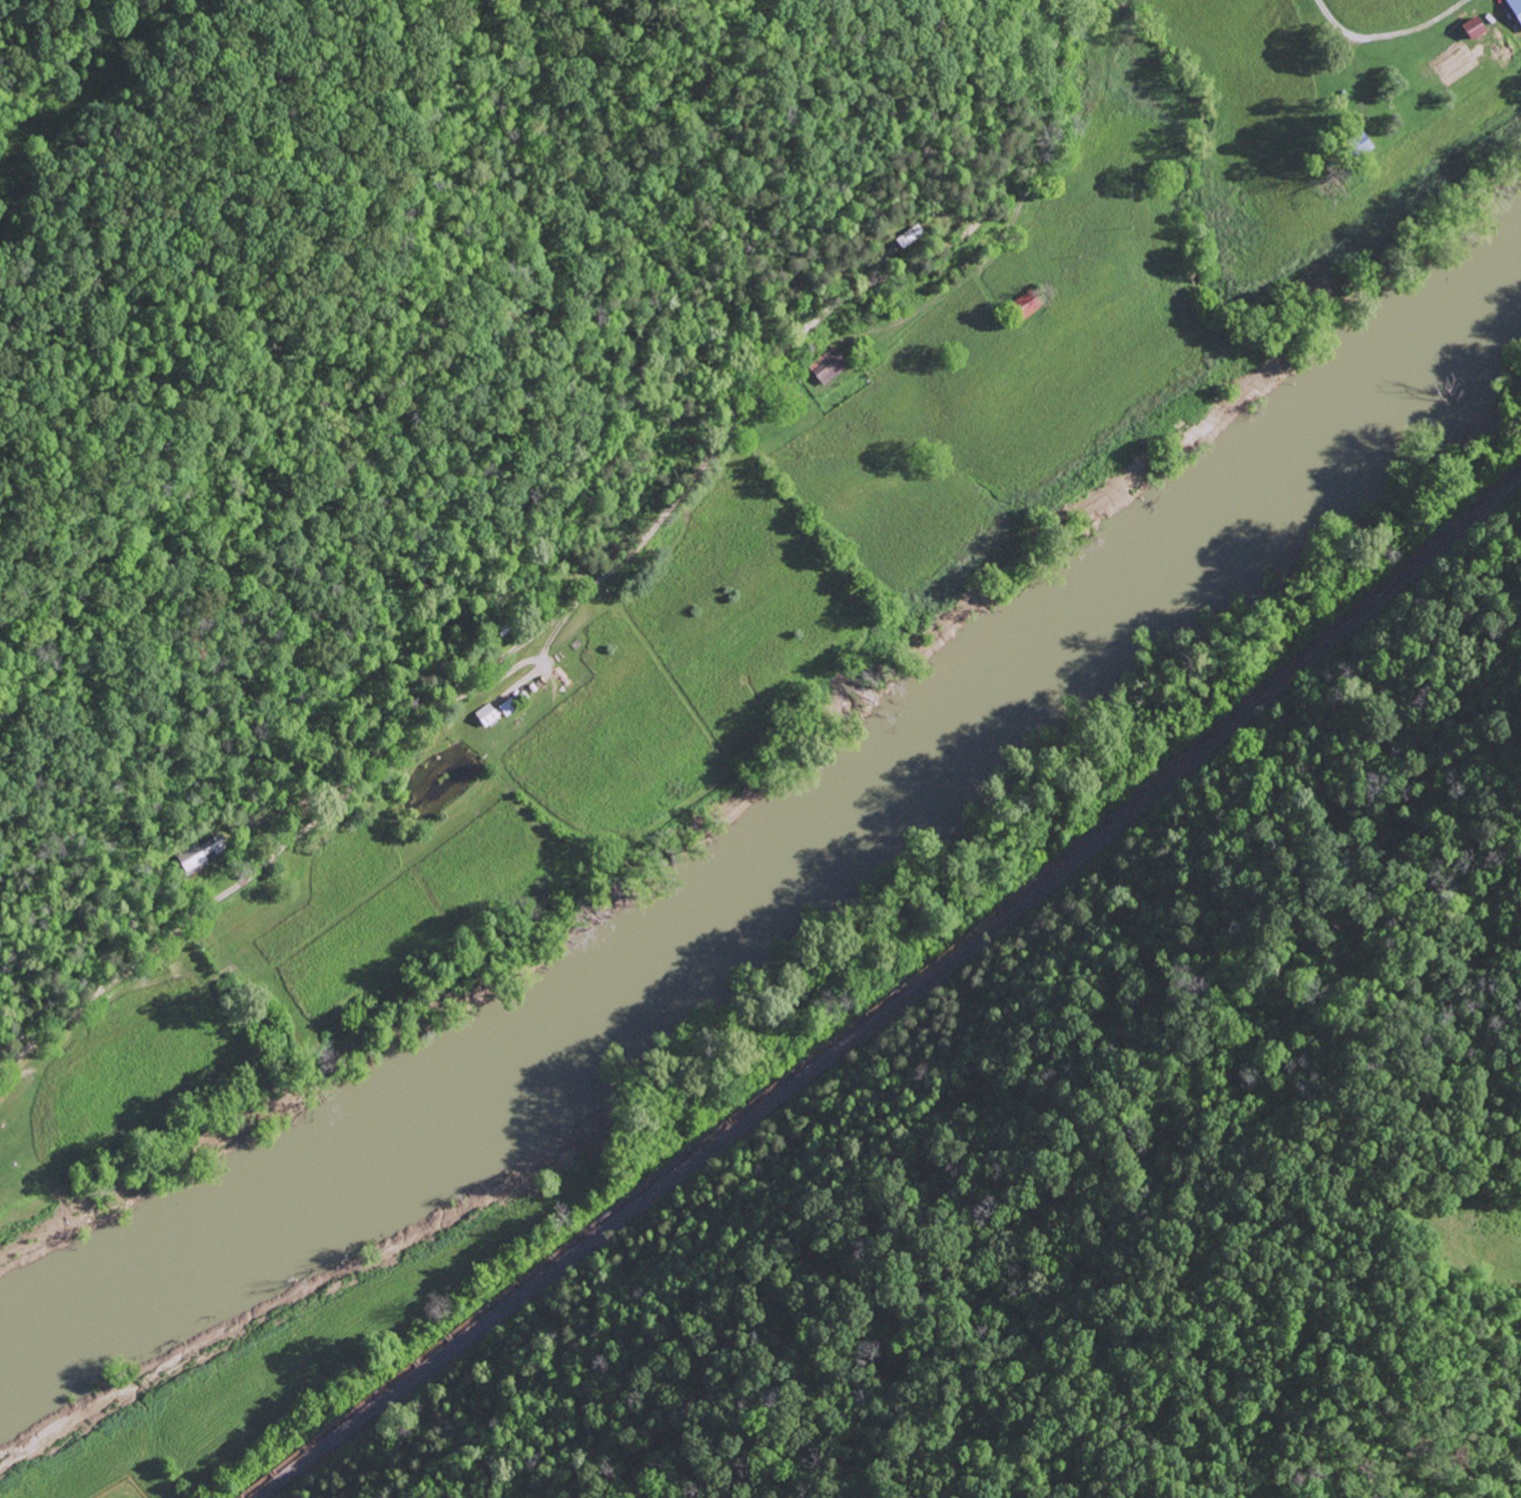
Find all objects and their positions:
building: (1514, 11)
building: (1469, 28)
road: (1045, 166)
river: (786, 844)
railway: (899, 998)

